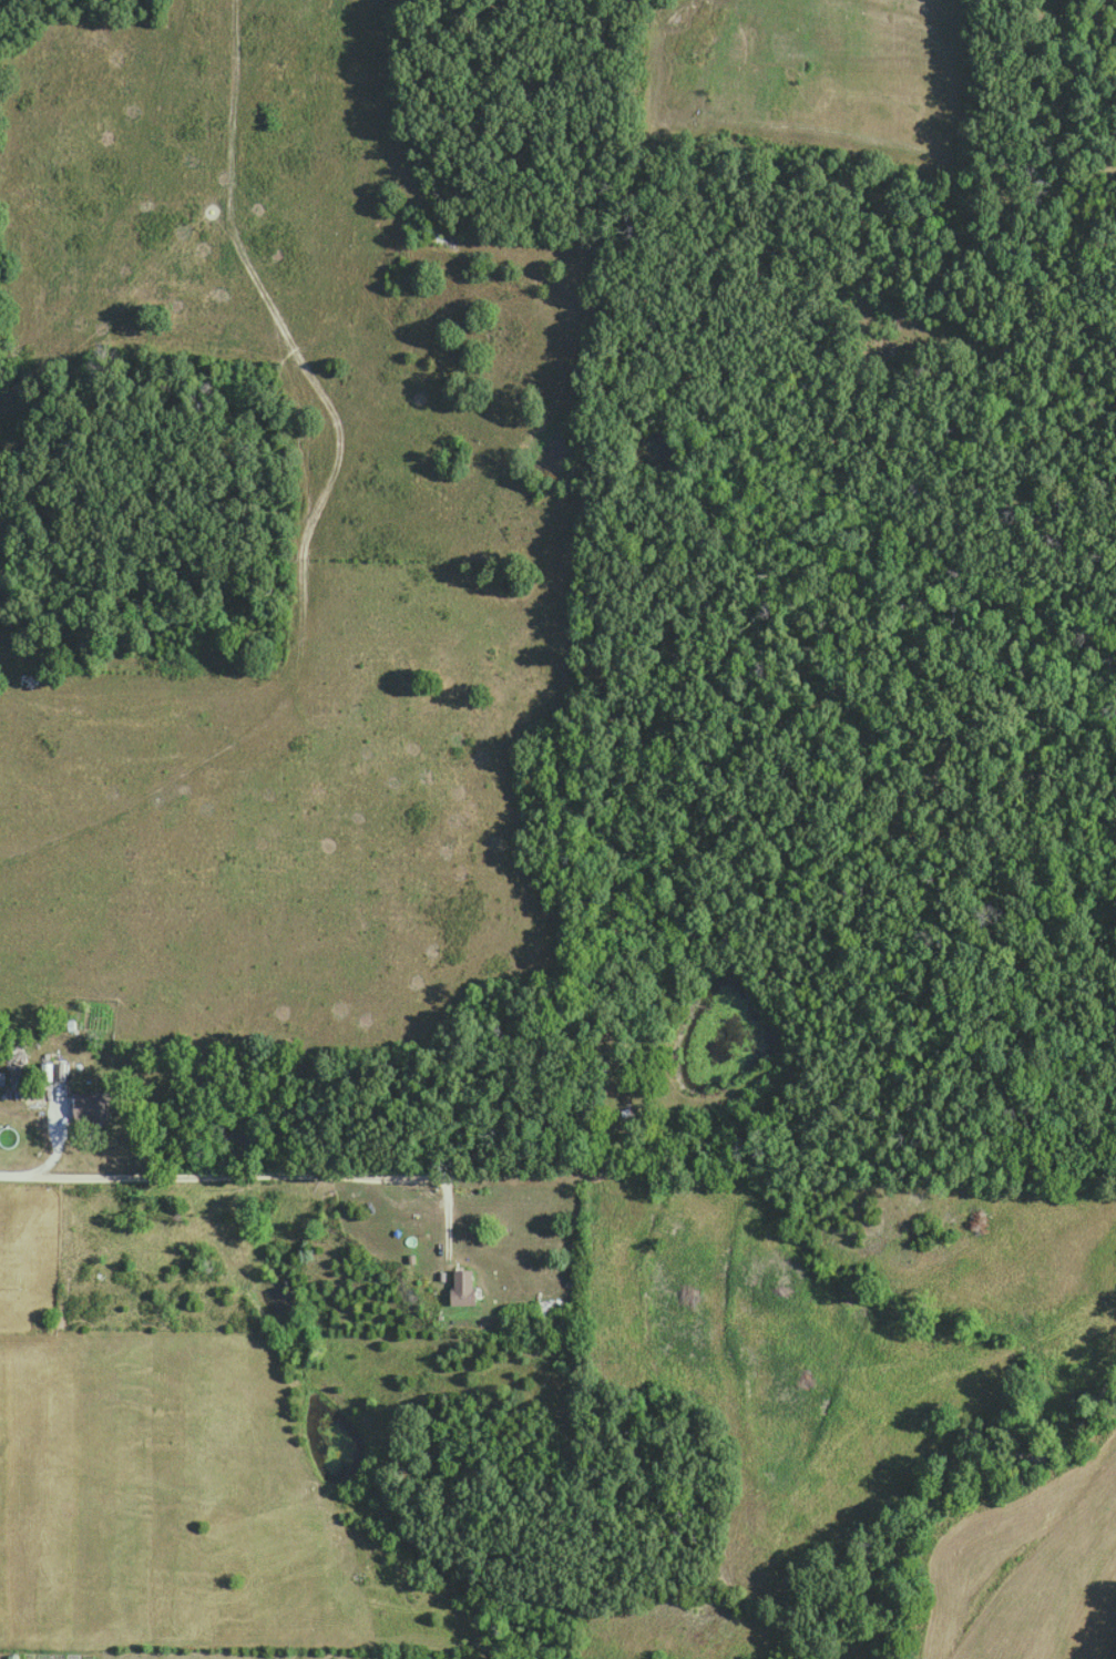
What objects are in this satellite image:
building: (92, 1103)
road: (222, 1170)
road: (39, 1221)
building: (463, 1286)

